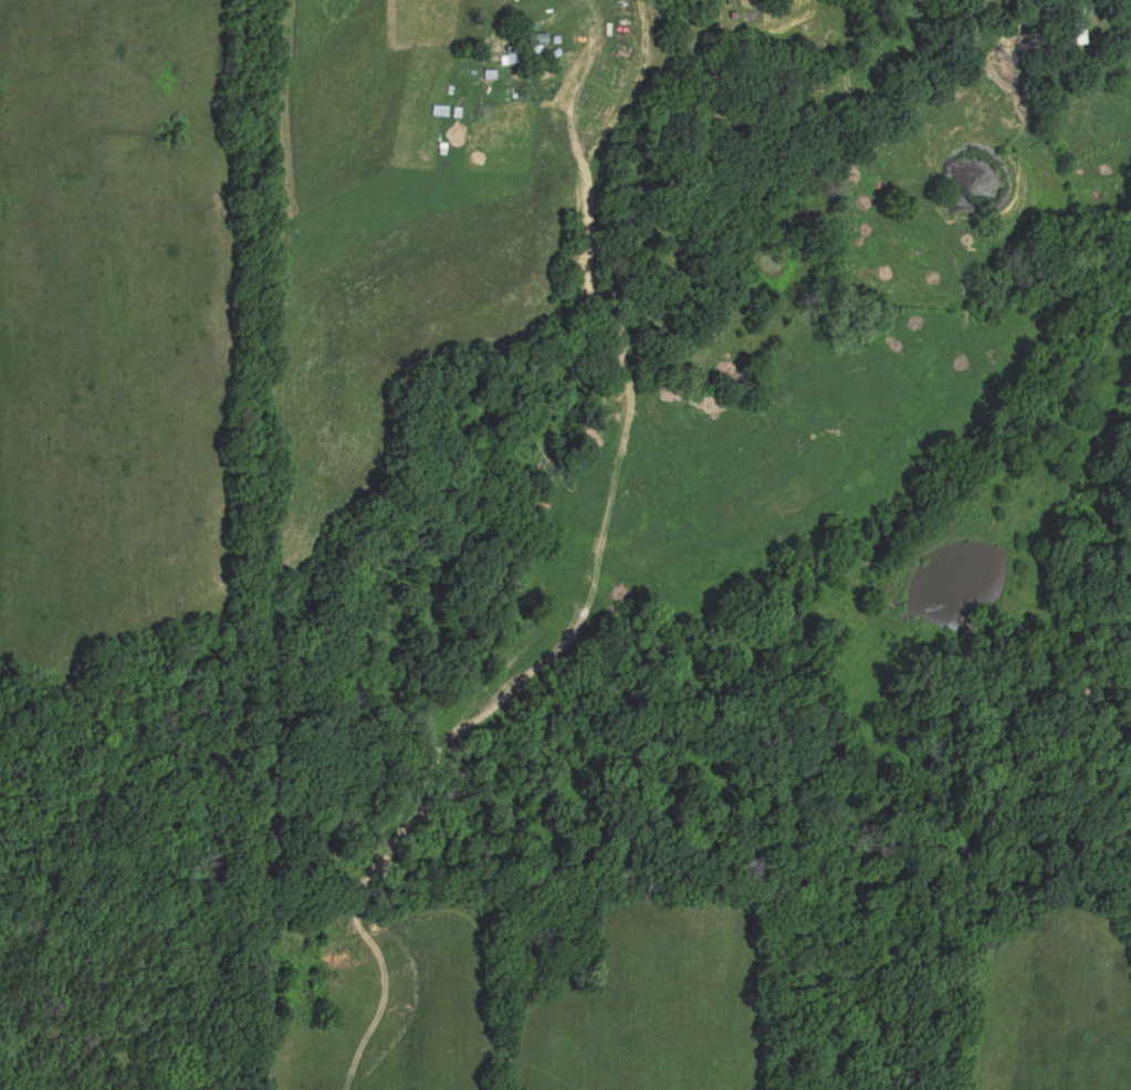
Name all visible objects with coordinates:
building: (1076, 21)
building: (510, 53)

